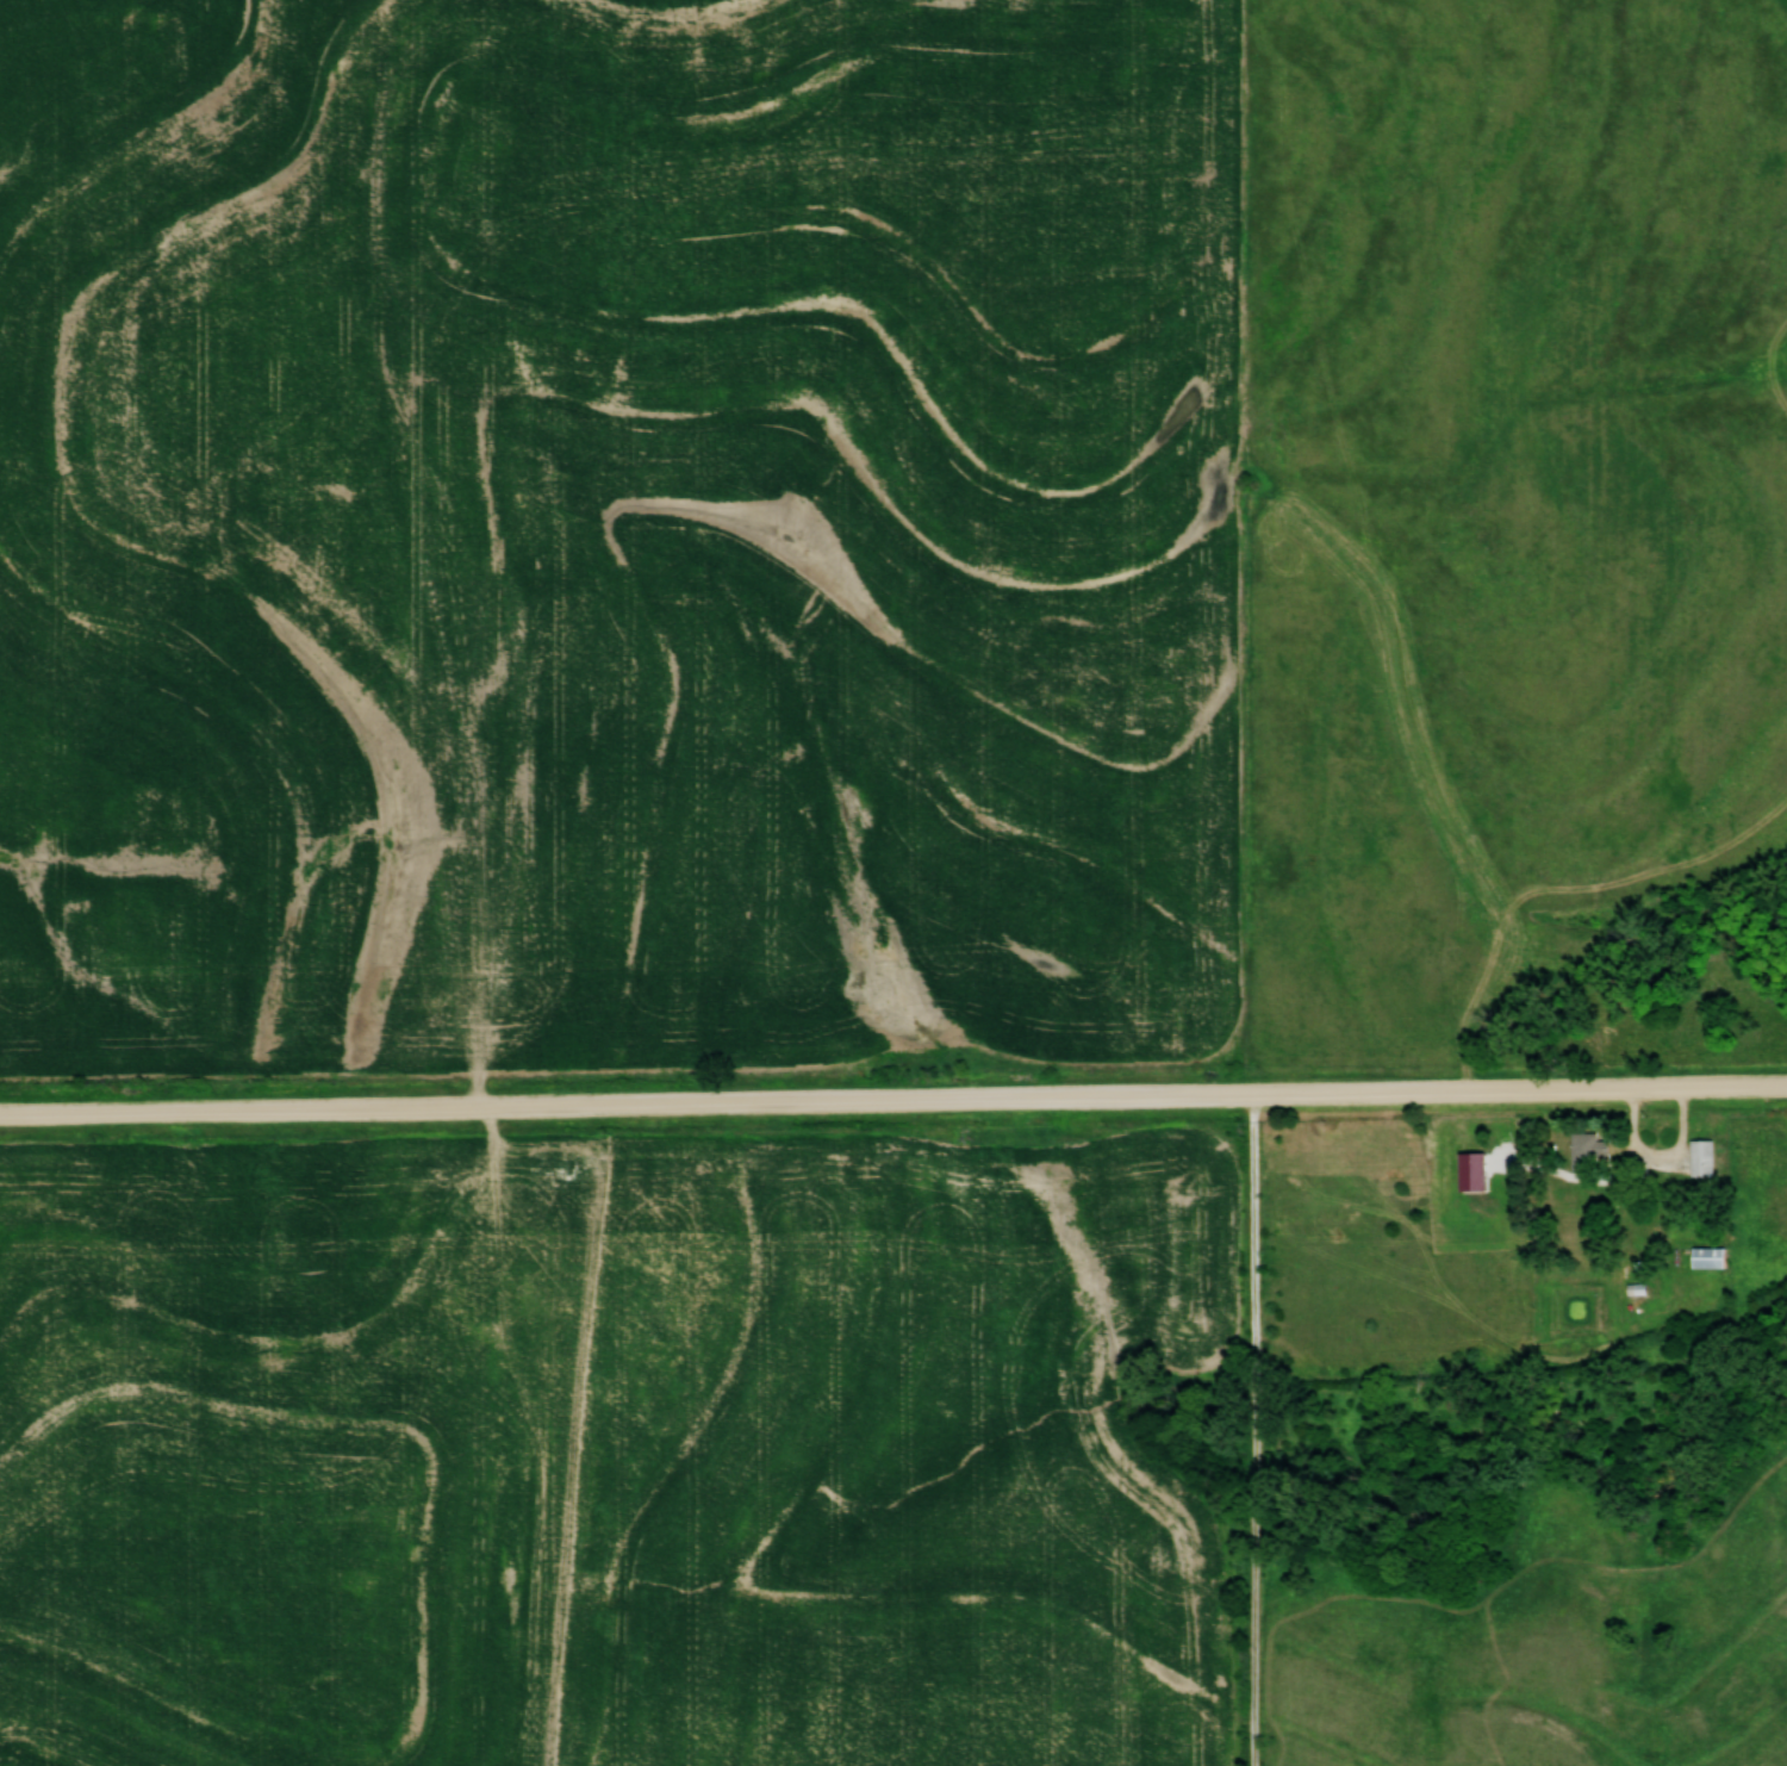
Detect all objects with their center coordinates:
road: (893, 1102)
building: (1589, 1149)
building: (1704, 1157)
building: (1710, 1256)

